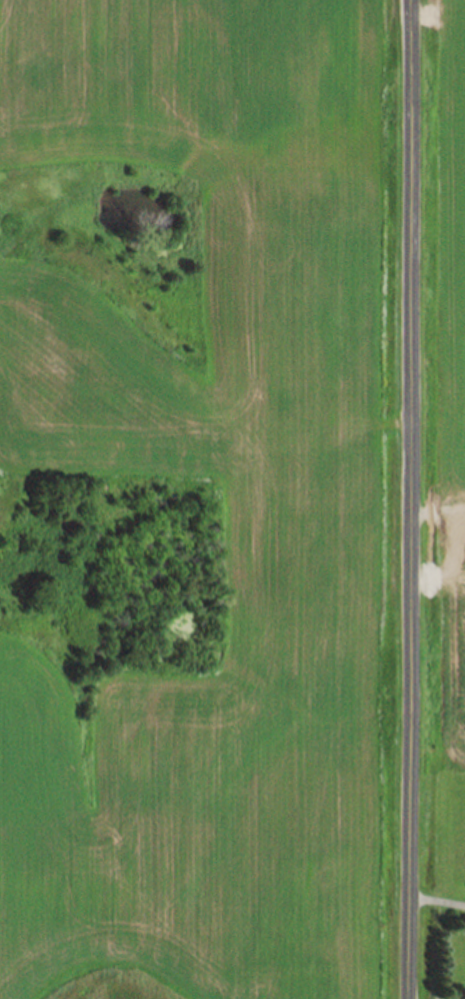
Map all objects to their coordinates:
road: (407, 499)
road: (436, 903)

